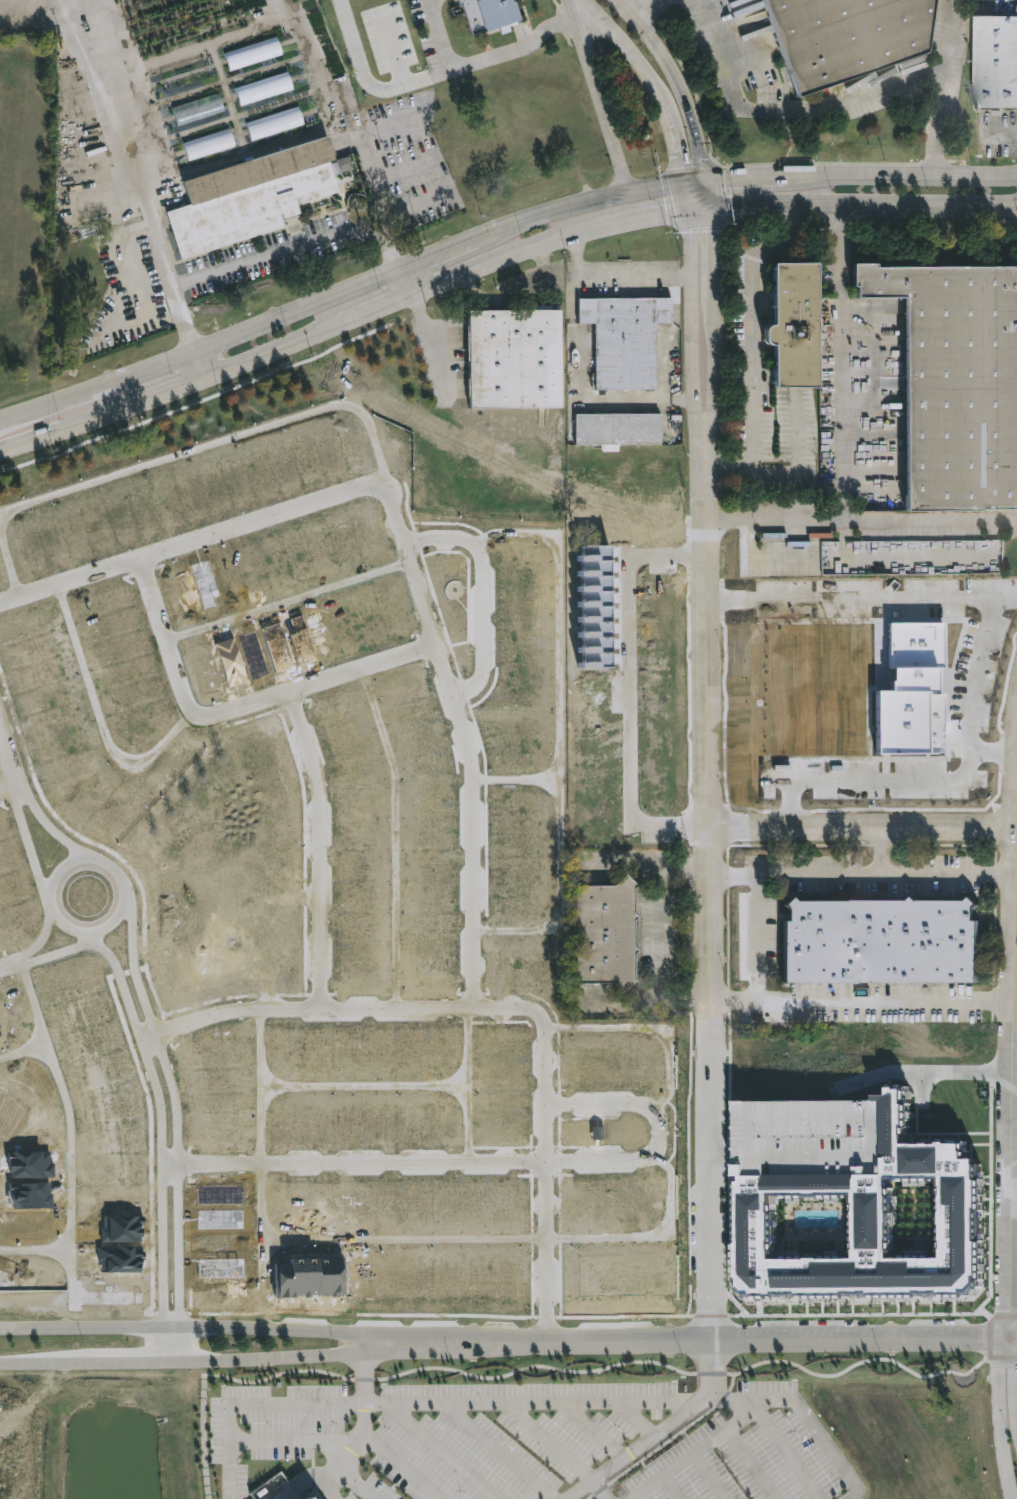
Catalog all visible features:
road: (640, 8)
building: (485, 15)
road: (439, 36)
building: (840, 37)
road: (394, 49)
road: (514, 52)
building: (994, 63)
road: (368, 80)
road: (678, 81)
road: (941, 89)
road: (595, 95)
road: (658, 96)
road: (783, 117)
road: (125, 152)
road: (749, 176)
road: (905, 178)
traffic signals: (705, 179)
traffic signals: (684, 182)
road: (707, 196)
building: (247, 198)
road: (862, 209)
traffic signals: (709, 213)
road: (698, 214)
traffic signals: (688, 215)
road: (644, 222)
road: (266, 256)
road: (615, 276)
road: (349, 282)
road: (401, 283)
building: (787, 326)
road: (712, 330)
road: (661, 331)
road: (693, 331)
building: (622, 340)
road: (300, 341)
road: (754, 347)
road: (198, 359)
building: (511, 360)
road: (585, 367)
building: (954, 384)
road: (678, 397)
road: (15, 426)
building: (614, 430)
road: (844, 451)
road: (181, 455)
road: (771, 475)
road: (776, 524)
road: (193, 541)
road: (482, 594)
road: (289, 602)
building: (41, 620)
road: (165, 639)
building: (2, 676)
road: (317, 683)
road: (639, 697)
road: (101, 718)
road: (711, 725)
road: (559, 733)
road: (464, 742)
road: (7, 758)
road: (516, 779)
road: (7, 785)
road: (48, 824)
road: (864, 828)
road: (397, 836)
road: (29, 841)
road: (319, 849)
road: (881, 851)
road: (865, 873)
road: (108, 927)
road: (654, 931)
building: (611, 934)
road: (758, 939)
road: (37, 940)
building: (880, 942)
road: (54, 955)
road: (7, 968)
road: (1015, 1003)
road: (863, 1005)
road: (349, 1010)
road: (41, 1028)
road: (649, 1029)
road: (912, 1075)
road: (403, 1086)
road: (1012, 1106)
road: (469, 1124)
road: (178, 1125)
road: (660, 1131)
building: (809, 1138)
parking garage: (809, 1138)
road: (163, 1141)
road: (1014, 1144)
road: (725, 1160)
road: (363, 1164)
road: (712, 1173)
road: (547, 1178)
road: (72, 1179)
building: (870, 1226)
road: (394, 1240)
road: (184, 1327)
road: (1013, 1338)
road: (687, 1340)
road: (184, 1362)
road: (1016, 1366)
road: (523, 1401)
road: (998, 1417)
road: (635, 1418)
building: (723, 1424)
road: (364, 1425)
road: (591, 1429)
road: (660, 1432)
road: (345, 1441)
parking lot: (542, 1441)
road: (557, 1448)
road: (442, 1450)
road: (498, 1450)
road: (695, 1451)
road: (787, 1453)
road: (749, 1464)
road: (709, 1476)
road: (359, 1485)
road: (671, 1487)
road: (635, 1497)
building: (303, 1498)

